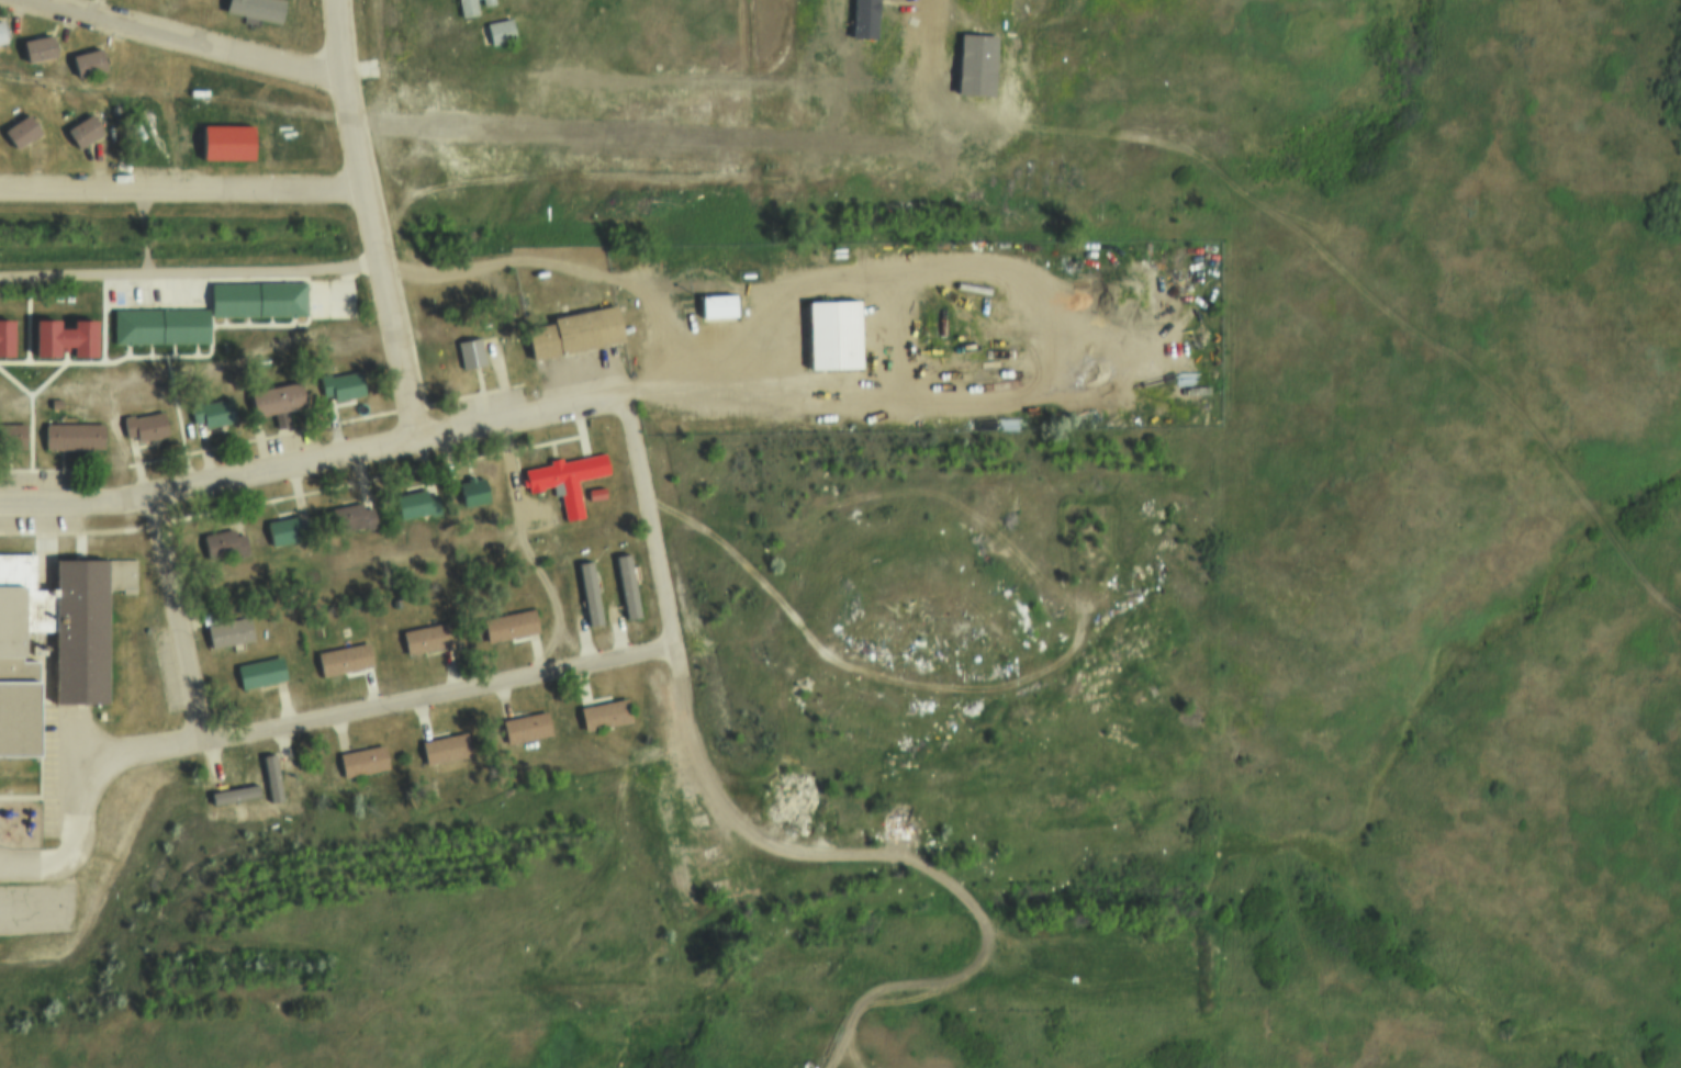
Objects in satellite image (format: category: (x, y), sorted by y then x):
building: (484, 3)
building: (255, 8)
building: (463, 9)
building: (497, 32)
building: (0, 37)
road: (177, 42)
building: (36, 49)
road: (517, 55)
building: (86, 63)
building: (20, 130)
building: (82, 130)
building: (224, 144)
road: (181, 193)
road: (368, 215)
road: (580, 271)
road: (193, 276)
building: (256, 297)
building: (717, 299)
building: (156, 326)
building: (573, 328)
building: (832, 328)
road: (1005, 338)
building: (3, 340)
building: (60, 340)
building: (469, 350)
building: (341, 382)
building: (273, 397)
building: (215, 411)
building: (144, 424)
building: (11, 431)
building: (71, 432)
road: (312, 452)
building: (565, 473)
building: (595, 485)
building: (473, 486)
building: (411, 501)
building: (348, 515)
road: (652, 518)
building: (284, 527)
road: (339, 531)
building: (222, 540)
road: (542, 542)
building: (625, 584)
building: (587, 589)
road: (175, 616)
building: (507, 622)
building: (226, 628)
building: (425, 633)
building: (341, 654)
building: (259, 666)
building: (78, 682)
road: (685, 683)
road: (897, 683)
road: (441, 698)
building: (601, 713)
building: (524, 723)
road: (791, 742)
building: (444, 743)
road: (143, 746)
building: (362, 755)
parking lot: (70, 763)
building: (270, 774)
building: (232, 790)
building: (236, 790)
building: (658, 798)
road: (80, 821)
road: (924, 866)
park: (36, 897)
road: (546, 923)
road: (309, 1057)

